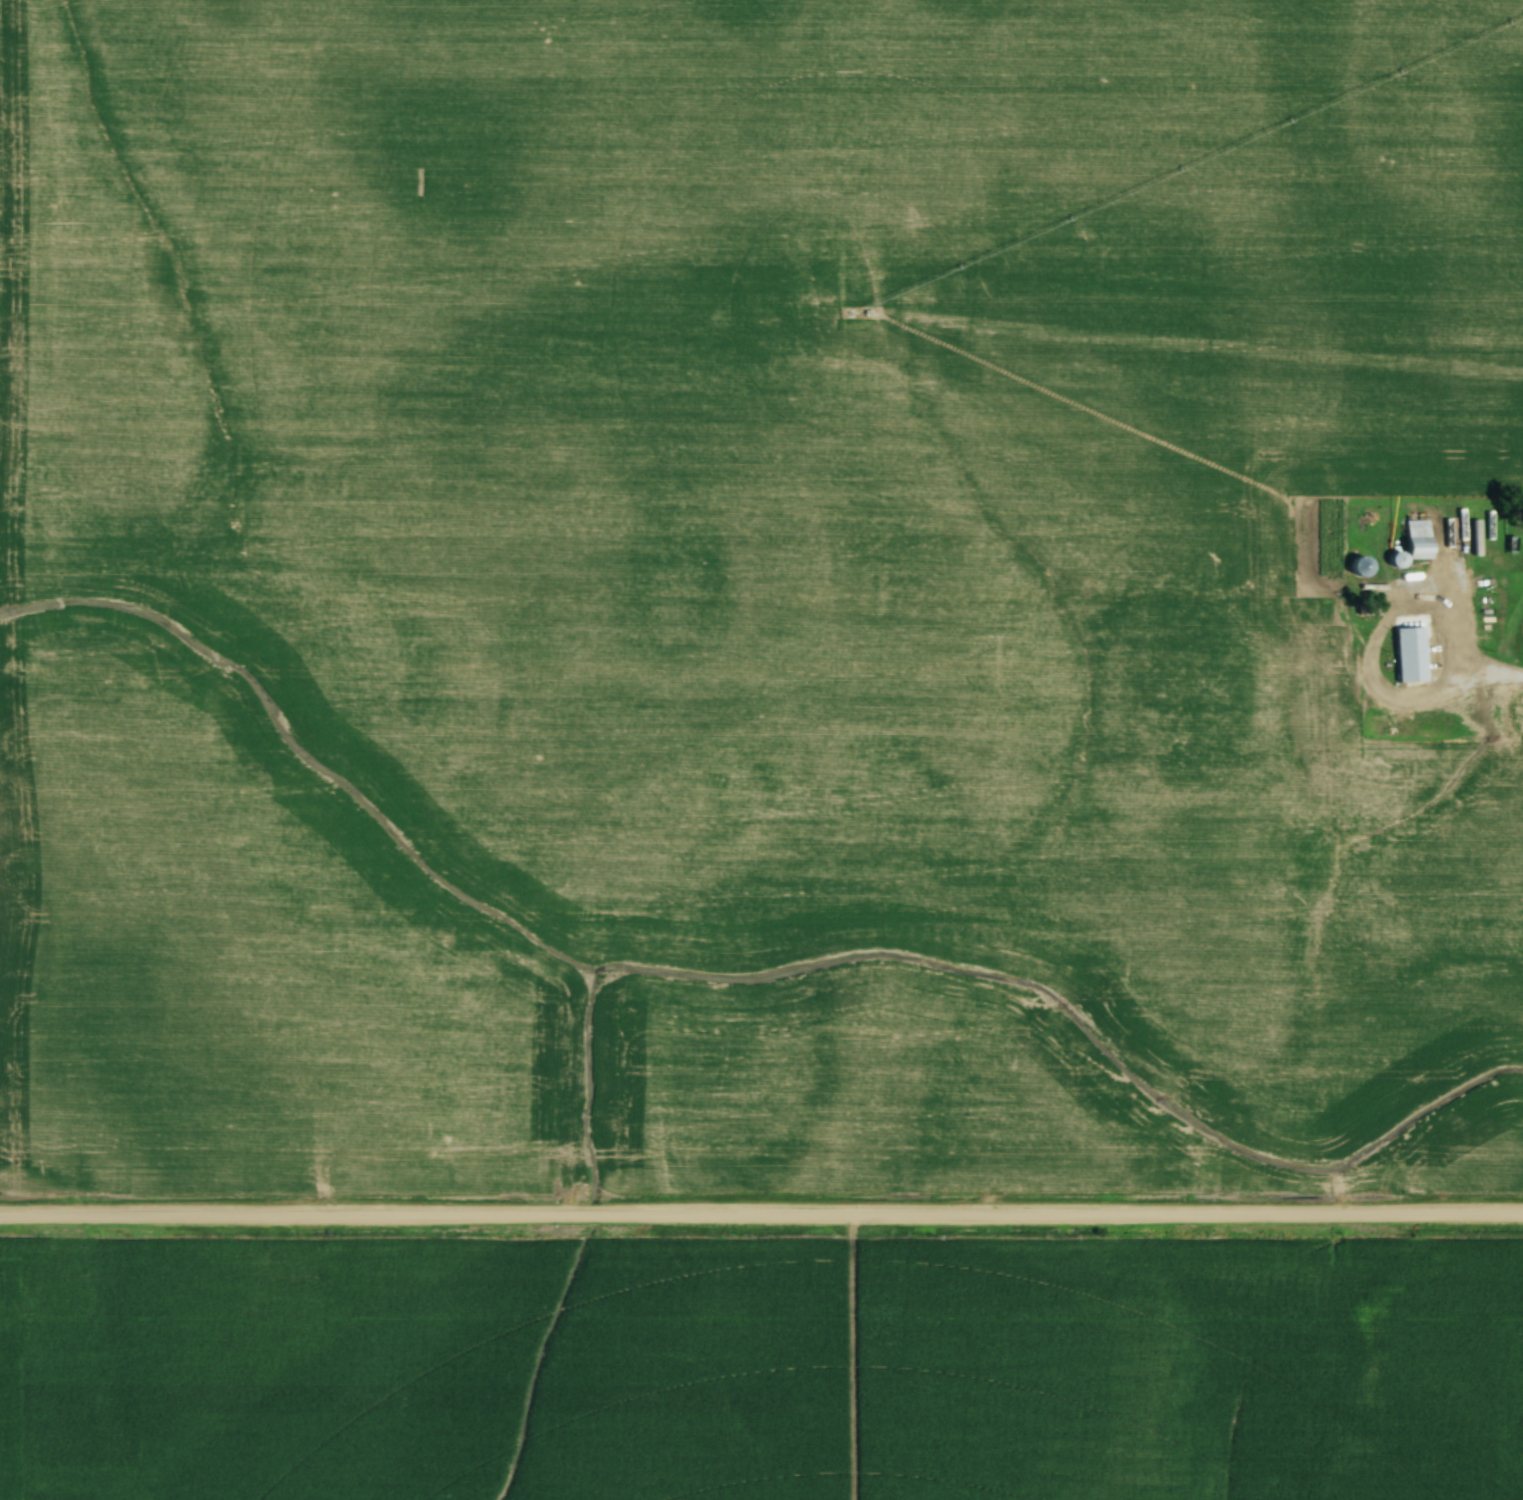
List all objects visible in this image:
building: (1419, 540)
building: (1398, 560)
building: (1361, 567)
building: (1411, 656)
road: (1452, 685)
road: (761, 1216)

